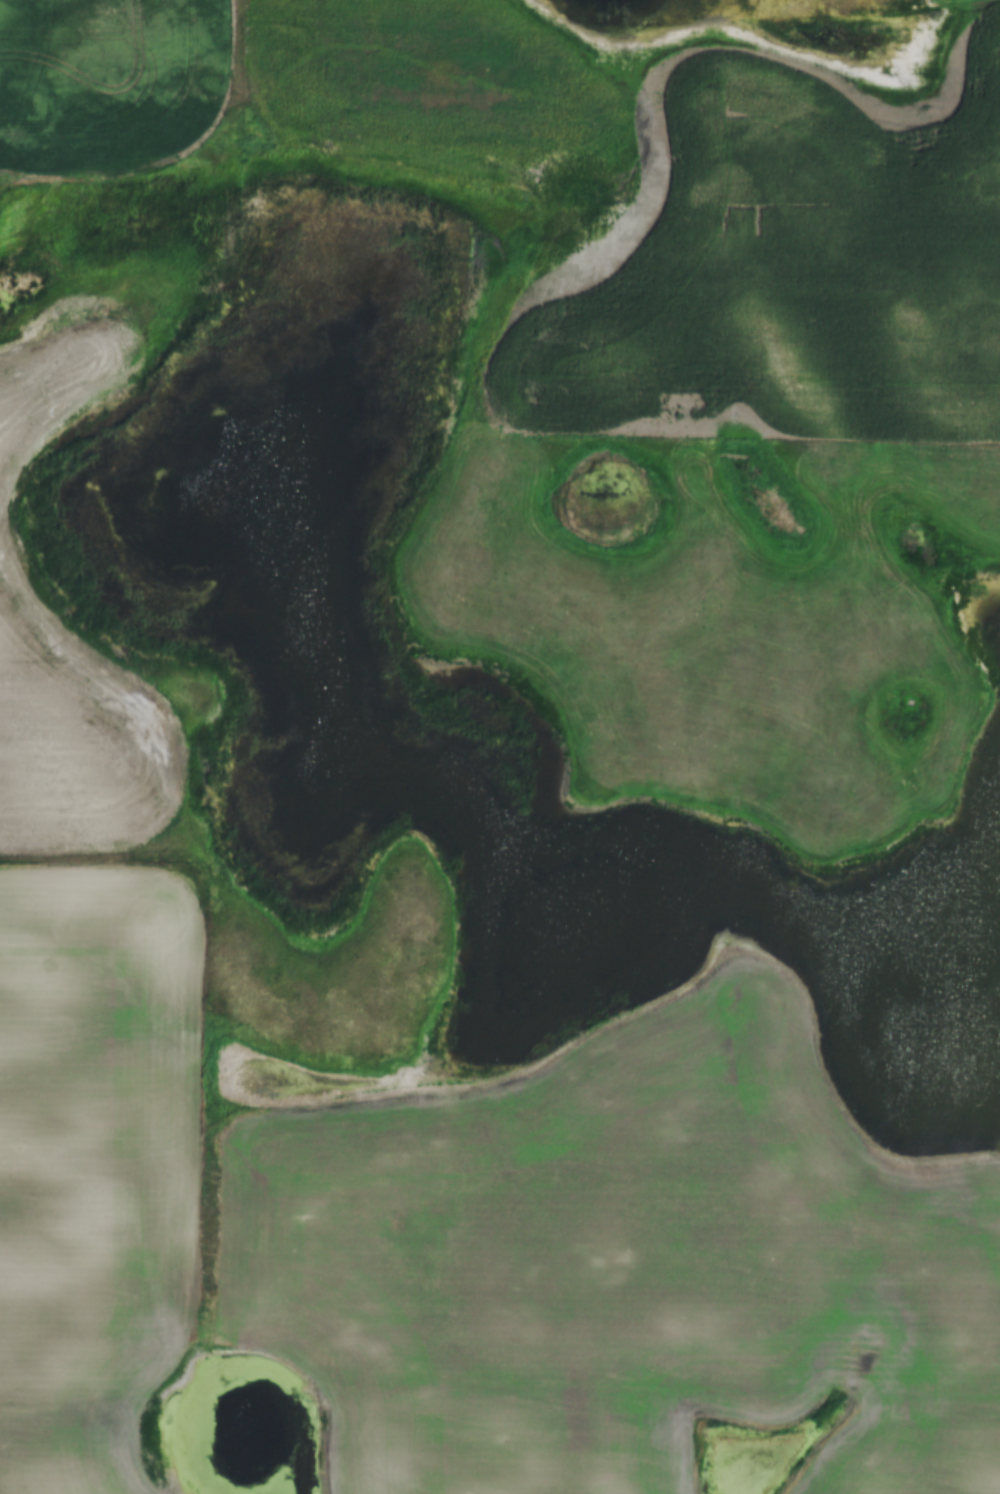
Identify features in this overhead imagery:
road: (68, 107)
road: (211, 916)

